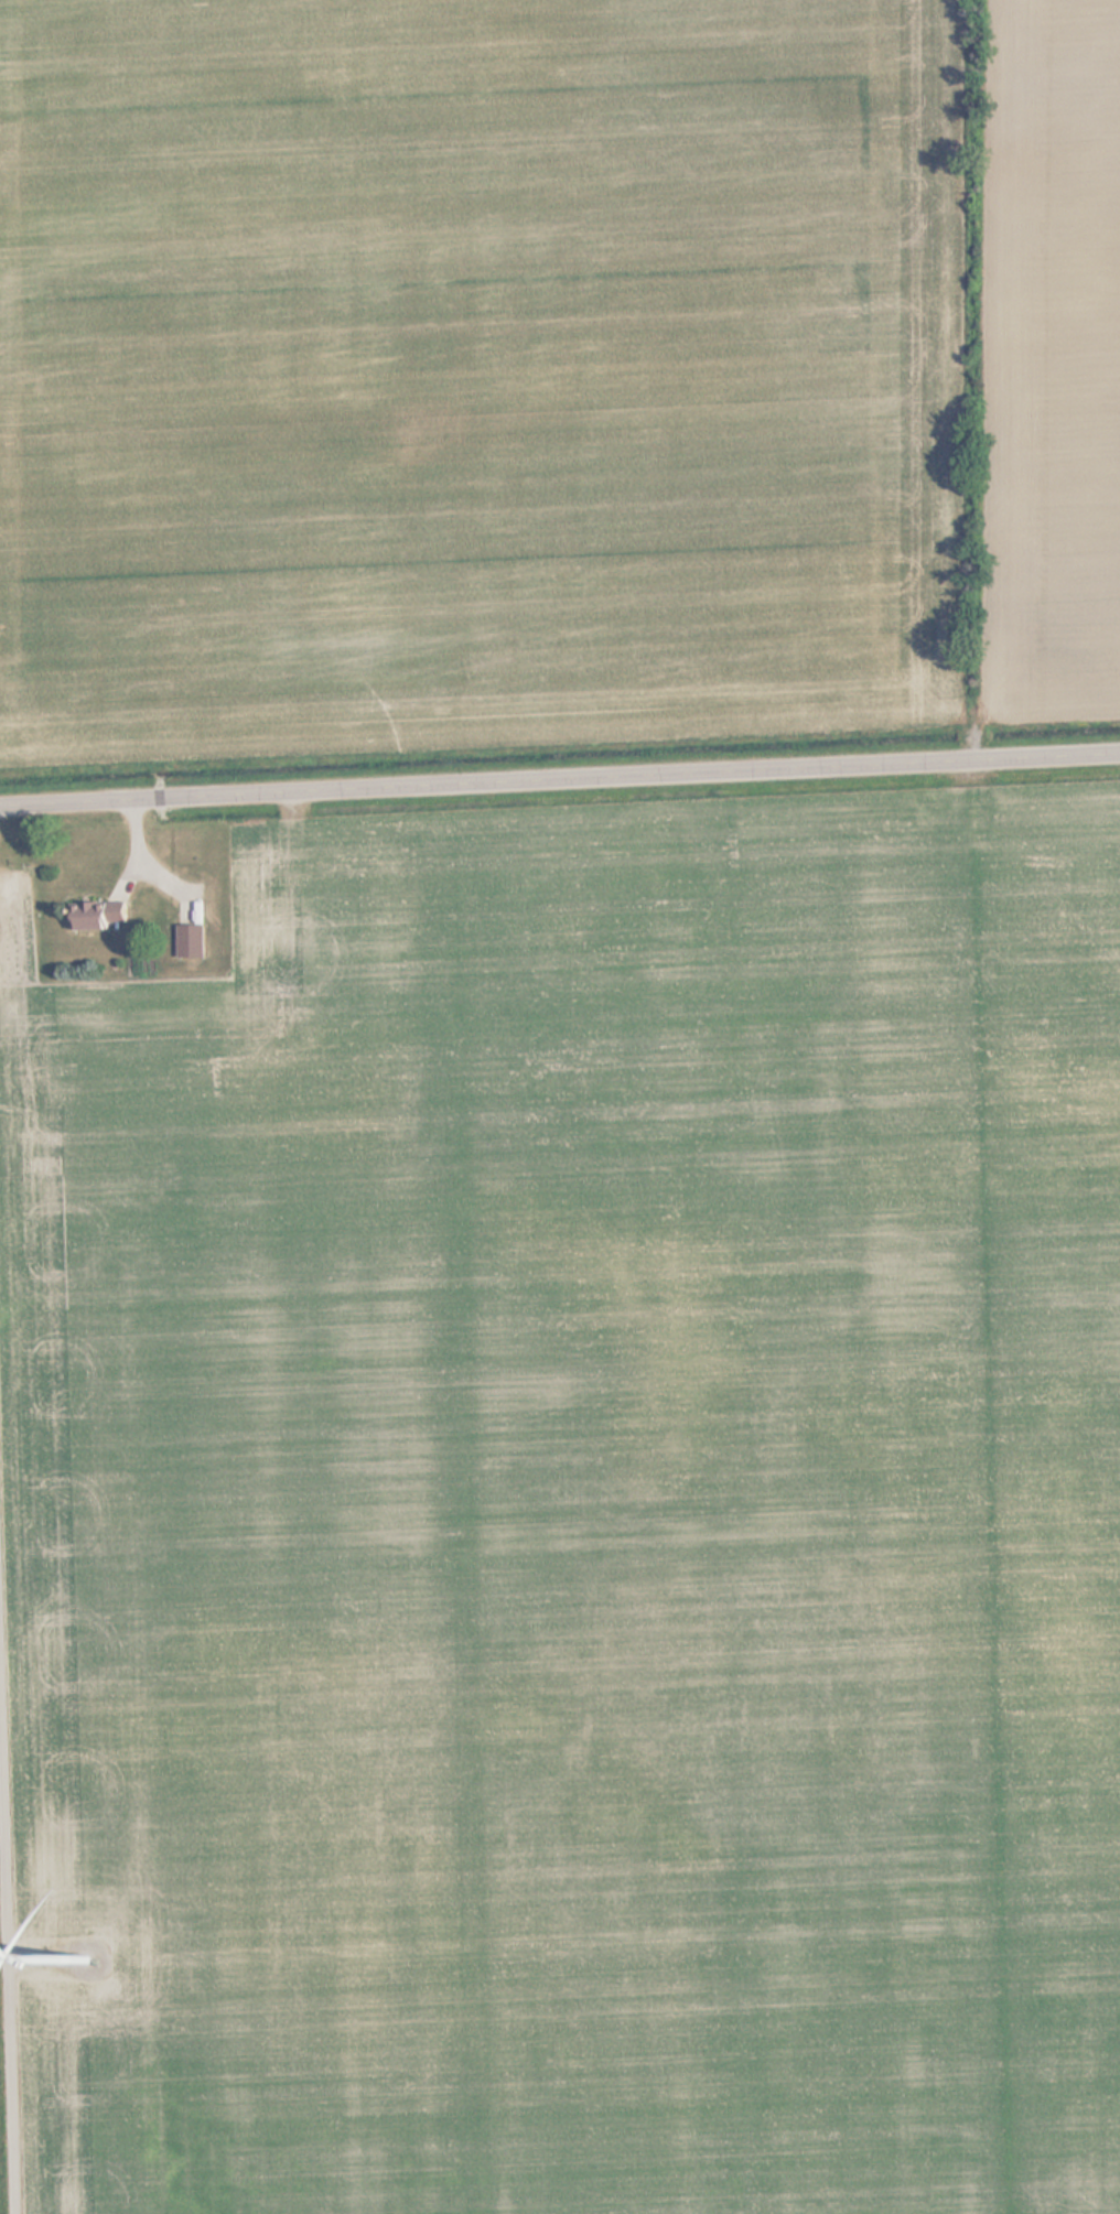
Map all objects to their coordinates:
road: (560, 777)
building: (107, 917)
building: (195, 941)
road: (10, 1909)
wind turbine: (83, 1963)

